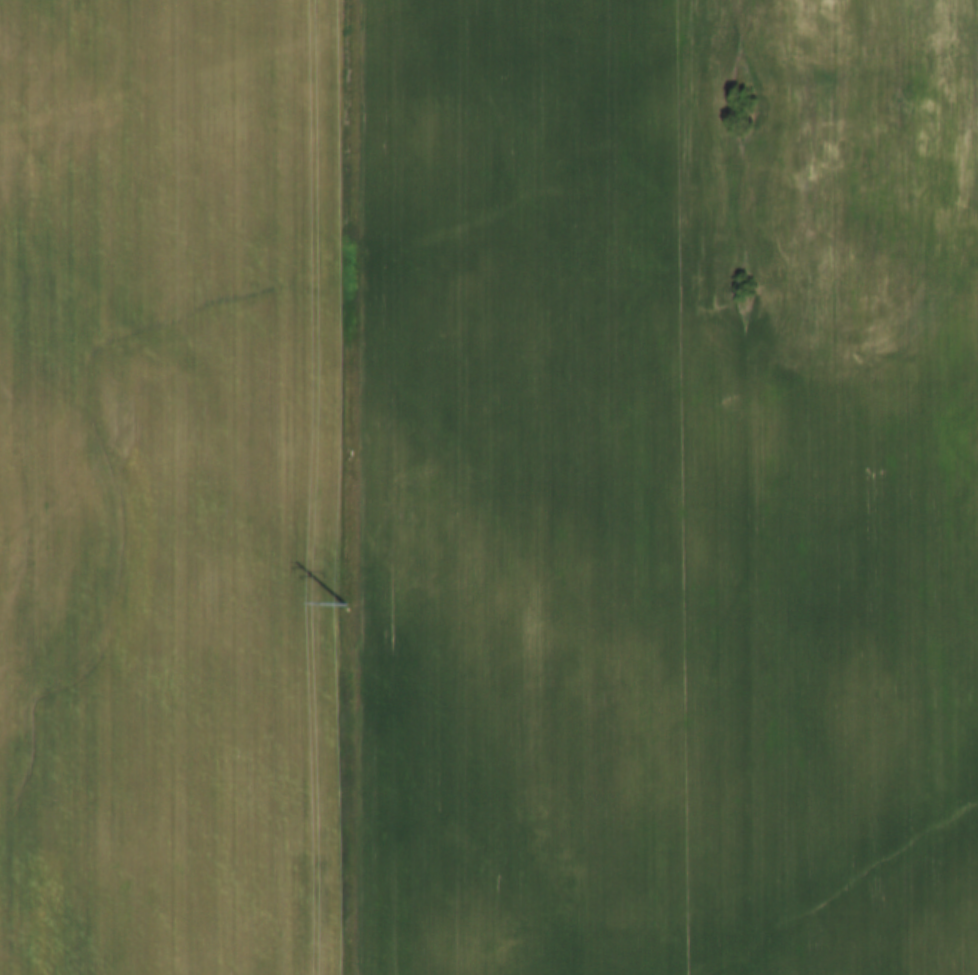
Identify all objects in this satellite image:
power tower: (343, 603)

